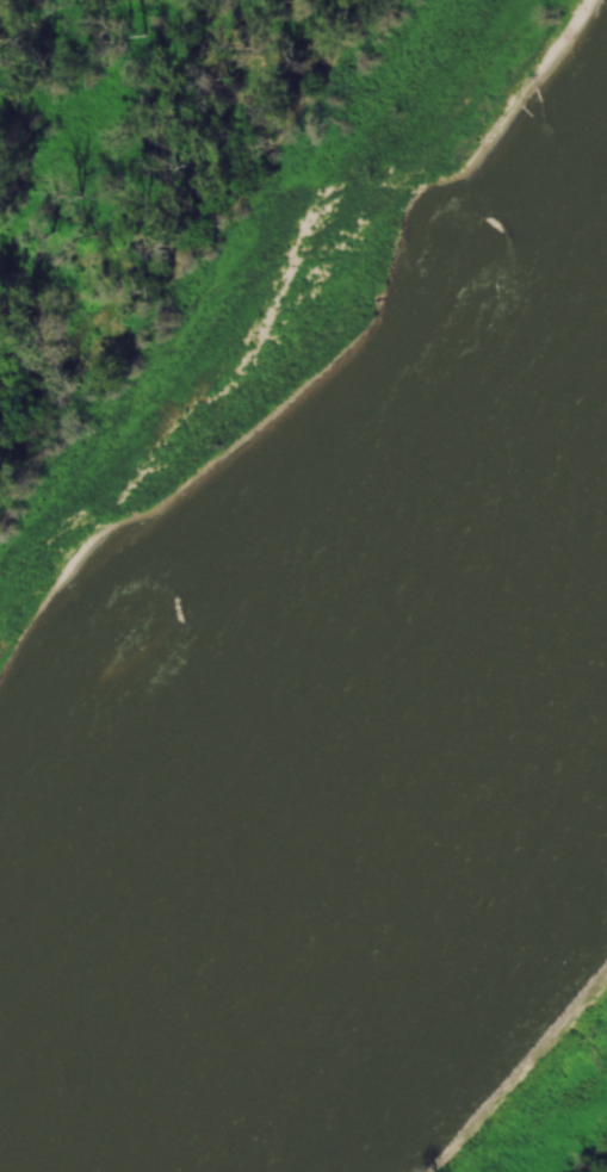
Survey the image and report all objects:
park: (148, 199)
river: (332, 841)

